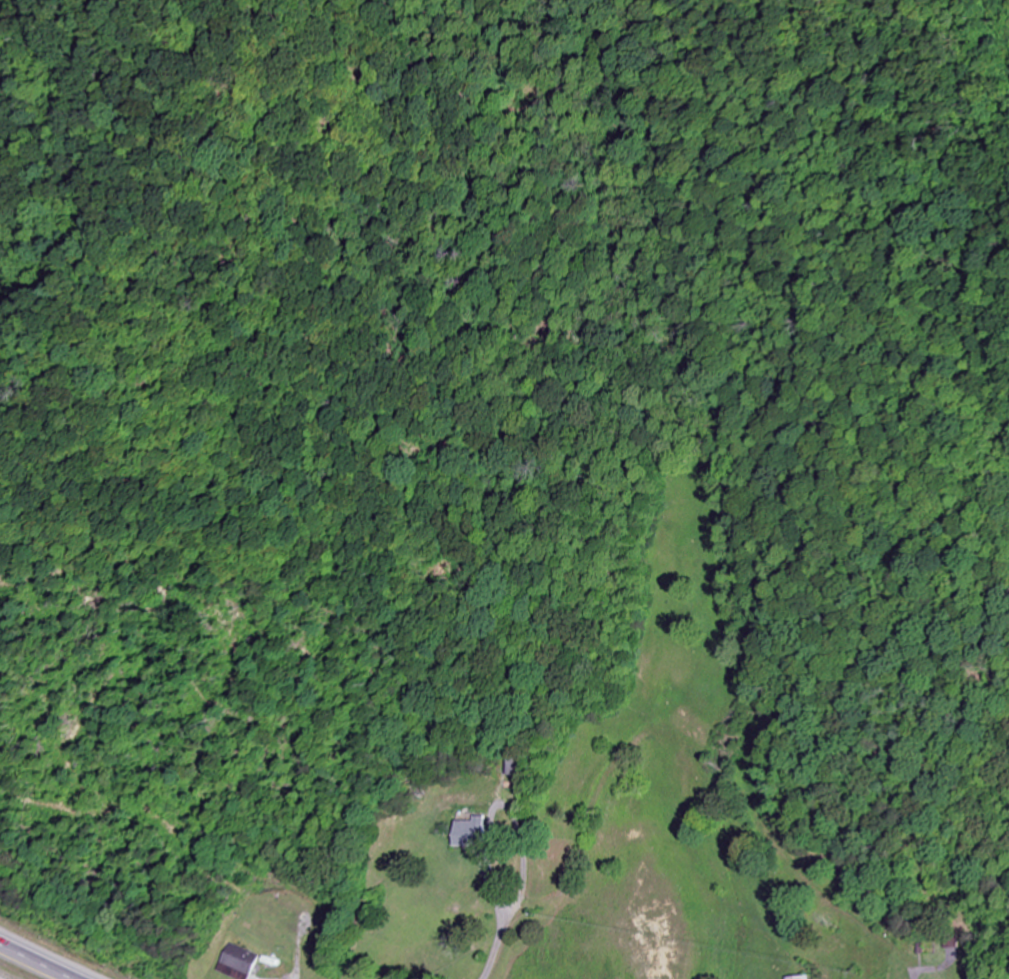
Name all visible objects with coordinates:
building: (476, 833)
road: (37, 961)
building: (798, 978)

